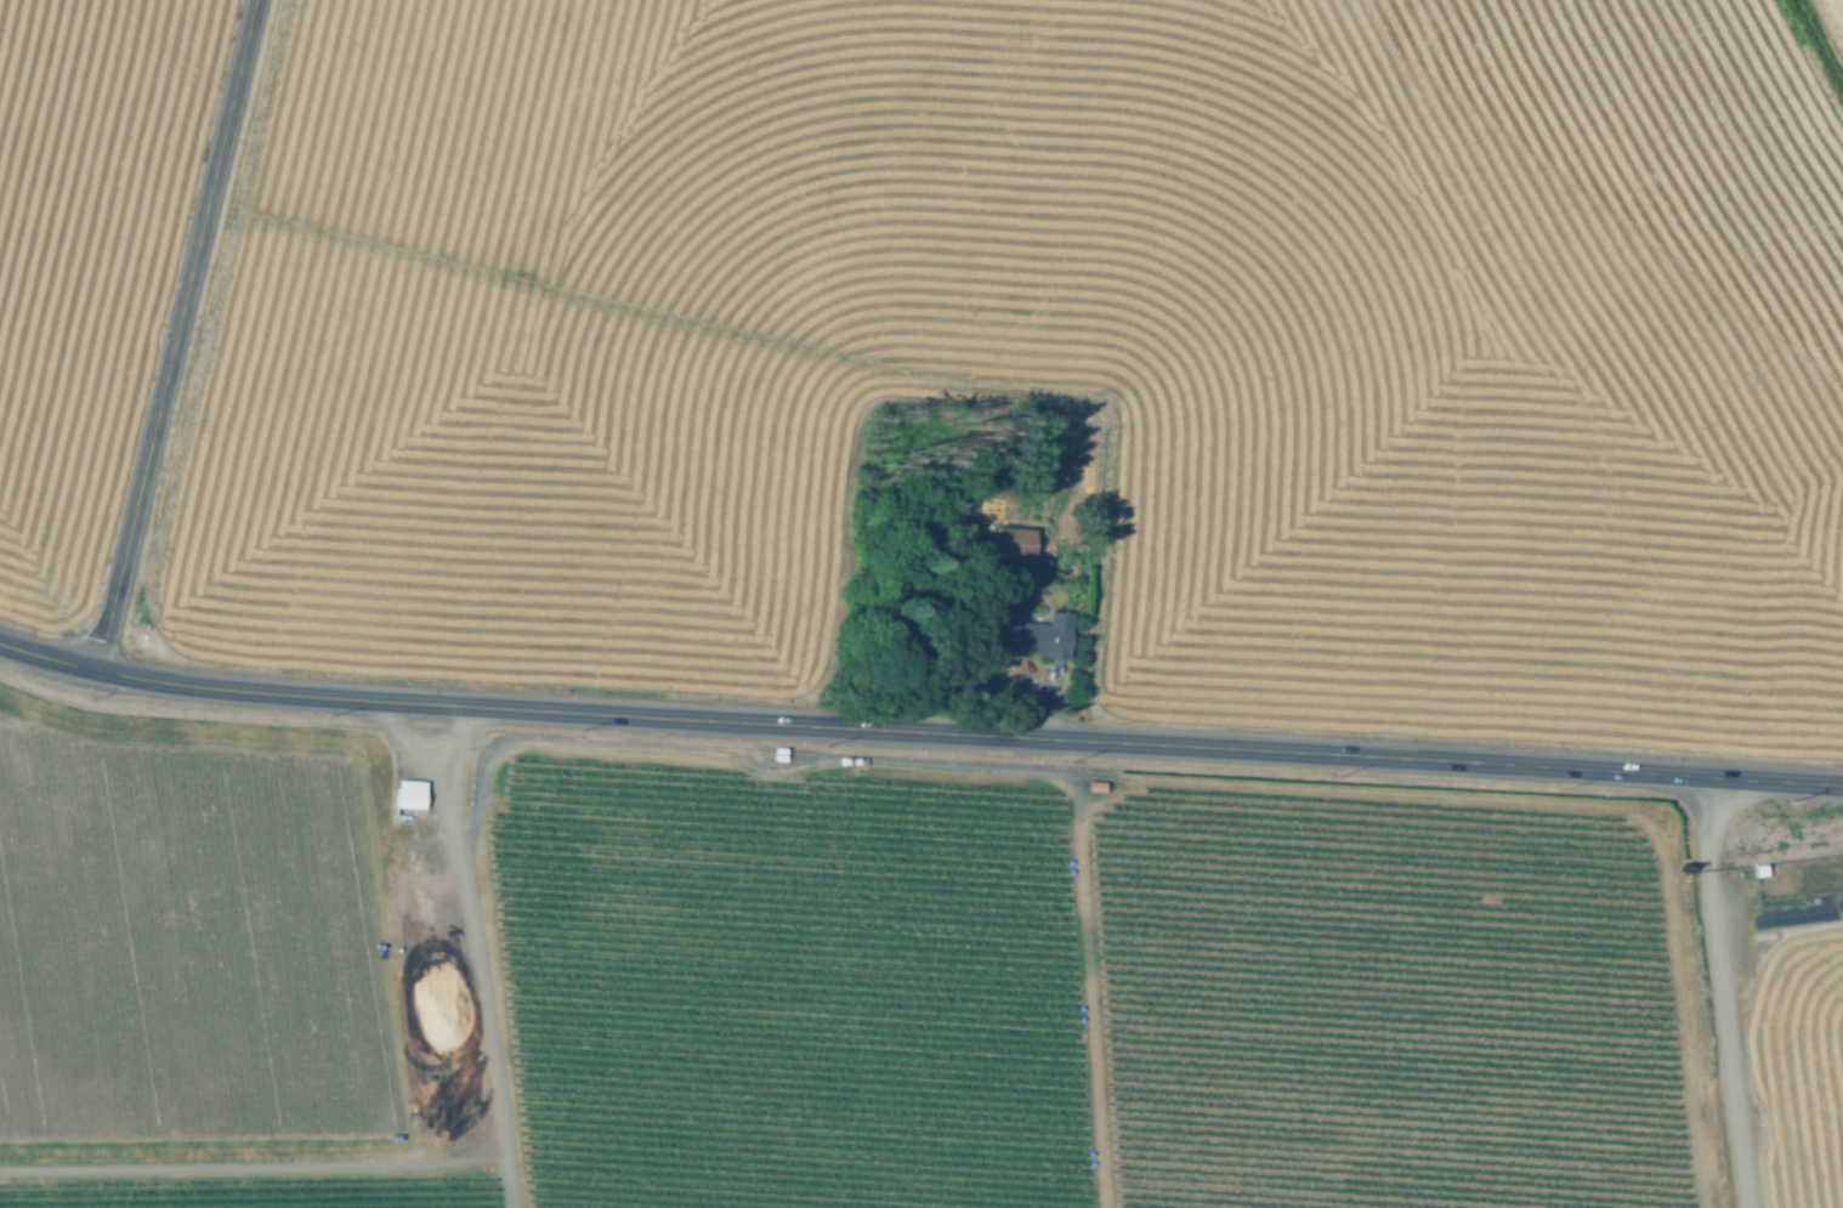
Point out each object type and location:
crop: (1836, 12)
crop: (85, 261)
road: (172, 333)
crop: (1038, 344)
building: (1017, 541)
building: (1036, 633)
road: (919, 727)
building: (782, 753)
building: (1095, 784)
building: (413, 792)
building: (1758, 868)
building: (1790, 907)
road: (478, 955)
crop: (880, 980)
road: (1725, 991)
road: (255, 1163)

